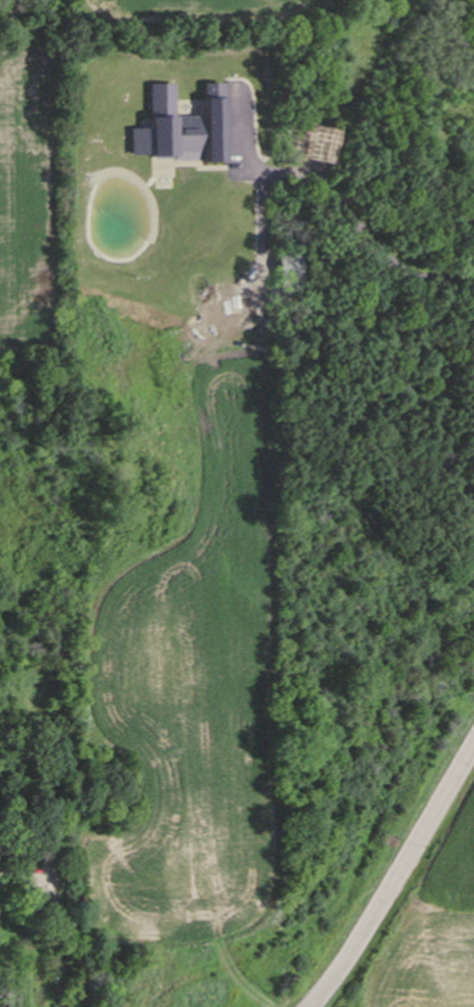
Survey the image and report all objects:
building: (181, 124)
road: (334, 201)
building: (287, 263)
building: (36, 796)
building: (53, 842)
building: (1, 862)
road: (402, 887)
road: (57, 935)
crop: (432, 936)

